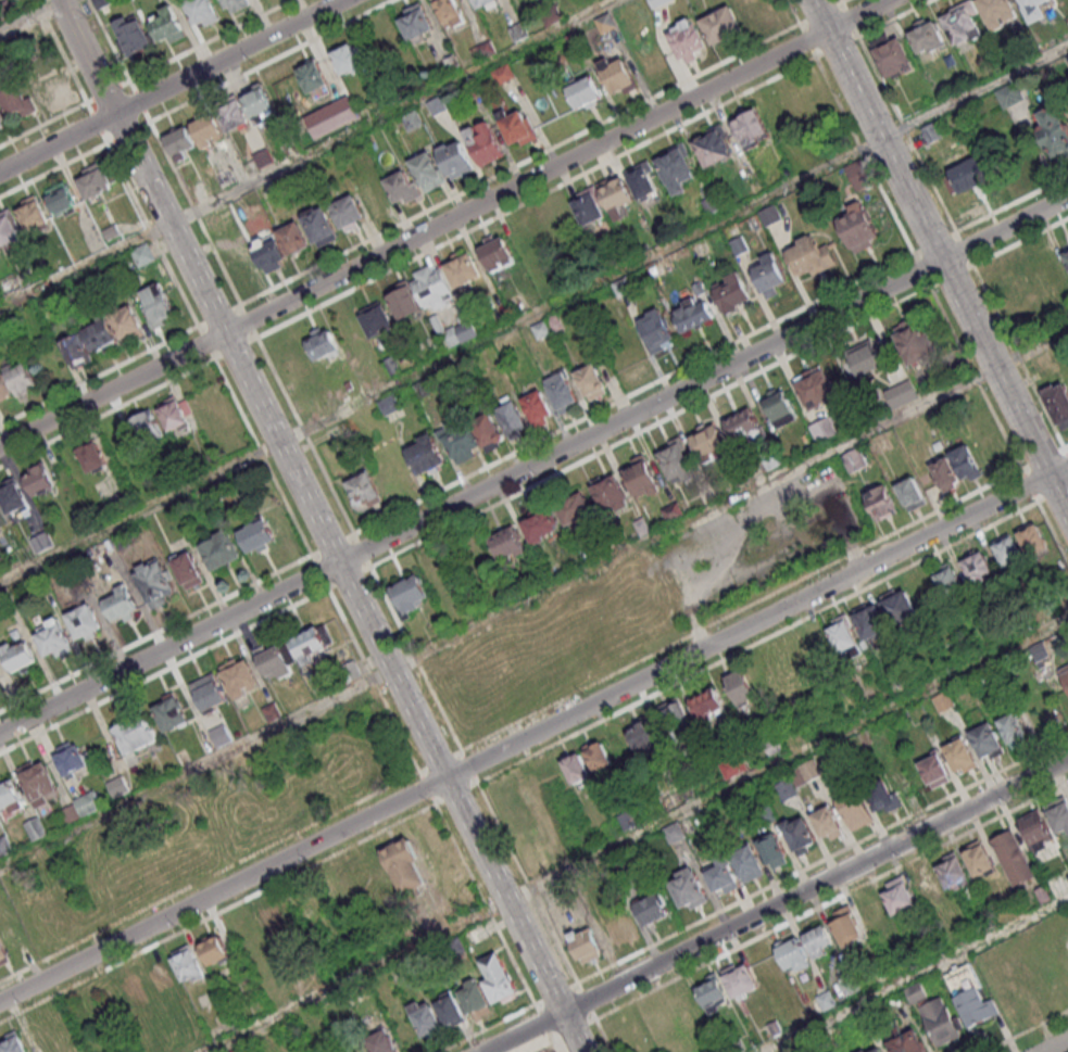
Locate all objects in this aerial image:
road: (843, 0)
building: (487, 2)
building: (655, 2)
building: (102, 3)
building: (235, 3)
building: (1033, 8)
building: (201, 11)
building: (450, 11)
building: (996, 11)
road: (793, 12)
road: (821, 12)
road: (33, 16)
road: (850, 18)
building: (416, 21)
building: (960, 21)
building: (604, 22)
building: (720, 24)
building: (168, 25)
building: (516, 30)
building: (133, 33)
building: (926, 34)
building: (684, 39)
road: (807, 40)
road: (838, 48)
road: (191, 50)
building: (482, 50)
building: (892, 55)
road: (86, 56)
building: (348, 58)
road: (271, 61)
building: (452, 62)
building: (503, 74)
building: (312, 75)
building: (618, 77)
road: (171, 85)
road: (975, 90)
building: (585, 92)
building: (1008, 93)
building: (15, 98)
building: (261, 105)
building: (437, 105)
building: (233, 114)
building: (3, 121)
building: (413, 121)
building: (208, 127)
building: (516, 127)
building: (751, 128)
building: (1054, 130)
building: (933, 135)
building: (180, 142)
building: (483, 142)
building: (712, 144)
road: (307, 152)
road: (917, 153)
building: (262, 156)
road: (865, 156)
building: (455, 157)
building: (676, 166)
building: (427, 170)
building: (859, 175)
building: (963, 177)
building: (93, 181)
building: (643, 182)
building: (402, 187)
building: (616, 190)
building: (61, 199)
road: (537, 199)
building: (711, 203)
building: (590, 204)
building: (348, 212)
building: (33, 213)
building: (768, 214)
road: (444, 221)
building: (318, 224)
building: (857, 226)
building: (9, 228)
building: (292, 237)
road: (1020, 242)
road: (935, 243)
building: (738, 244)
road: (353, 248)
road: (965, 249)
building: (268, 252)
building: (495, 252)
building: (142, 254)
building: (809, 254)
building: (1066, 254)
road: (940, 257)
building: (462, 268)
road: (922, 269)
building: (768, 274)
road: (952, 276)
building: (432, 286)
building: (619, 287)
building: (699, 288)
road: (579, 289)
building: (731, 290)
building: (405, 301)
building: (158, 304)
building: (693, 314)
building: (377, 319)
building: (554, 320)
building: (126, 321)
building: (464, 328)
building: (541, 328)
building: (656, 329)
building: (444, 331)
building: (101, 333)
building: (914, 340)
building: (321, 343)
building: (76, 350)
road: (1031, 350)
building: (865, 356)
road: (1019, 356)
building: (20, 378)
building: (590, 380)
building: (4, 388)
building: (815, 388)
building: (561, 390)
road: (633, 394)
building: (1057, 403)
building: (389, 404)
building: (536, 407)
building: (779, 407)
building: (512, 415)
building: (175, 417)
building: (745, 424)
road: (651, 426)
building: (825, 427)
building: (147, 429)
building: (488, 430)
road: (305, 436)
building: (707, 441)
building: (461, 442)
road: (1066, 446)
road: (1066, 451)
building: (423, 455)
building: (91, 456)
road: (1042, 457)
building: (676, 459)
building: (854, 460)
building: (966, 462)
road: (533, 464)
building: (945, 472)
building: (640, 476)
building: (39, 479)
road: (1029, 485)
building: (363, 489)
building: (611, 493)
building: (912, 493)
building: (13, 494)
road: (1053, 494)
building: (880, 502)
building: (575, 507)
road: (138, 511)
building: (2, 517)
building: (540, 521)
road: (1053, 532)
building: (255, 535)
building: (1033, 537)
building: (40, 541)
building: (507, 543)
building: (221, 548)
building: (1008, 550)
building: (977, 566)
building: (187, 568)
road: (809, 576)
building: (950, 579)
road: (347, 583)
building: (155, 584)
building: (407, 595)
building: (118, 600)
building: (899, 607)
road: (497, 616)
building: (84, 620)
building: (870, 620)
building: (845, 634)
building: (54, 638)
building: (312, 642)
road: (757, 643)
building: (1040, 651)
building: (17, 655)
building: (274, 660)
building: (1065, 672)
building: (239, 677)
building: (0, 686)
building: (740, 686)
building: (209, 693)
building: (943, 700)
building: (707, 702)
building: (271, 711)
building: (171, 712)
building: (673, 713)
road: (512, 725)
building: (1014, 730)
road: (533, 732)
building: (221, 734)
building: (641, 734)
building: (988, 739)
building: (135, 740)
building: (774, 746)
building: (959, 755)
building: (598, 757)
road: (786, 758)
building: (73, 759)
building: (734, 765)
building: (577, 766)
building: (934, 770)
building: (805, 773)
building: (37, 781)
building: (117, 785)
building: (784, 788)
building: (880, 794)
building: (9, 798)
building: (88, 802)
building: (854, 809)
building: (1057, 811)
building: (71, 812)
building: (828, 822)
building: (35, 827)
building: (1035, 828)
building: (797, 835)
building: (4, 845)
building: (771, 849)
building: (1014, 857)
building: (979, 858)
building: (745, 860)
road: (822, 861)
building: (404, 866)
building: (954, 870)
building: (721, 875)
road: (528, 884)
building: (925, 884)
building: (689, 890)
building: (900, 895)
road: (775, 902)
building: (651, 908)
road: (815, 909)
building: (875, 916)
building: (845, 925)
building: (275, 927)
building: (620, 929)
building: (817, 940)
building: (586, 943)
building: (214, 950)
building: (3, 952)
building: (792, 953)
building: (187, 964)
building: (766, 967)
road: (353, 975)
road: (915, 975)
building: (162, 978)
building: (497, 978)
building: (739, 979)
building: (850, 984)
building: (134, 989)
building: (712, 992)
building: (968, 993)
building: (474, 994)
building: (826, 999)
building: (450, 1009)
building: (426, 1019)
building: (941, 1019)
building: (774, 1026)
road: (1028, 1031)
building: (904, 1039)
building: (12, 1041)
building: (382, 1041)
road: (1056, 1045)
road: (542, 1047)
road: (556, 1047)
building: (863, 1050)
building: (878, 1050)
building: (336, 1051)
building: (782, 1051)

